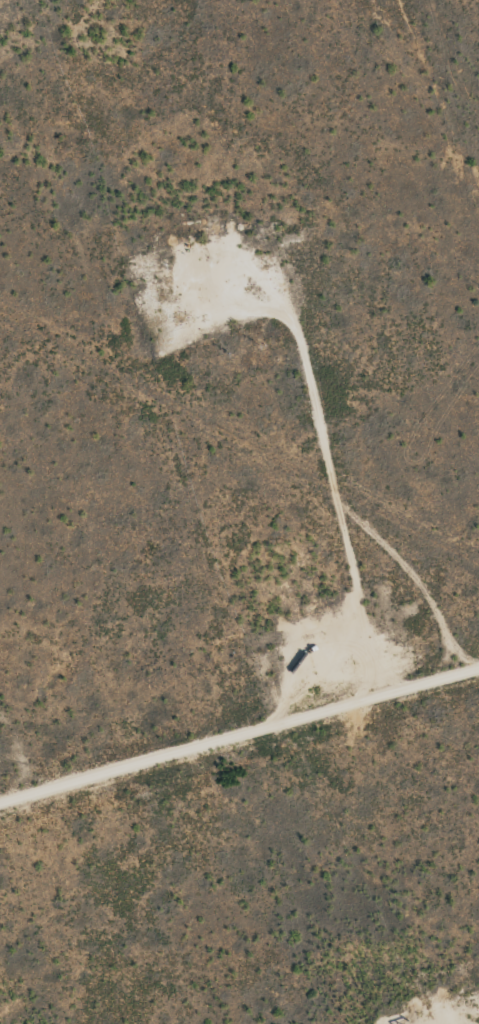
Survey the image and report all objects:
road: (239, 734)

